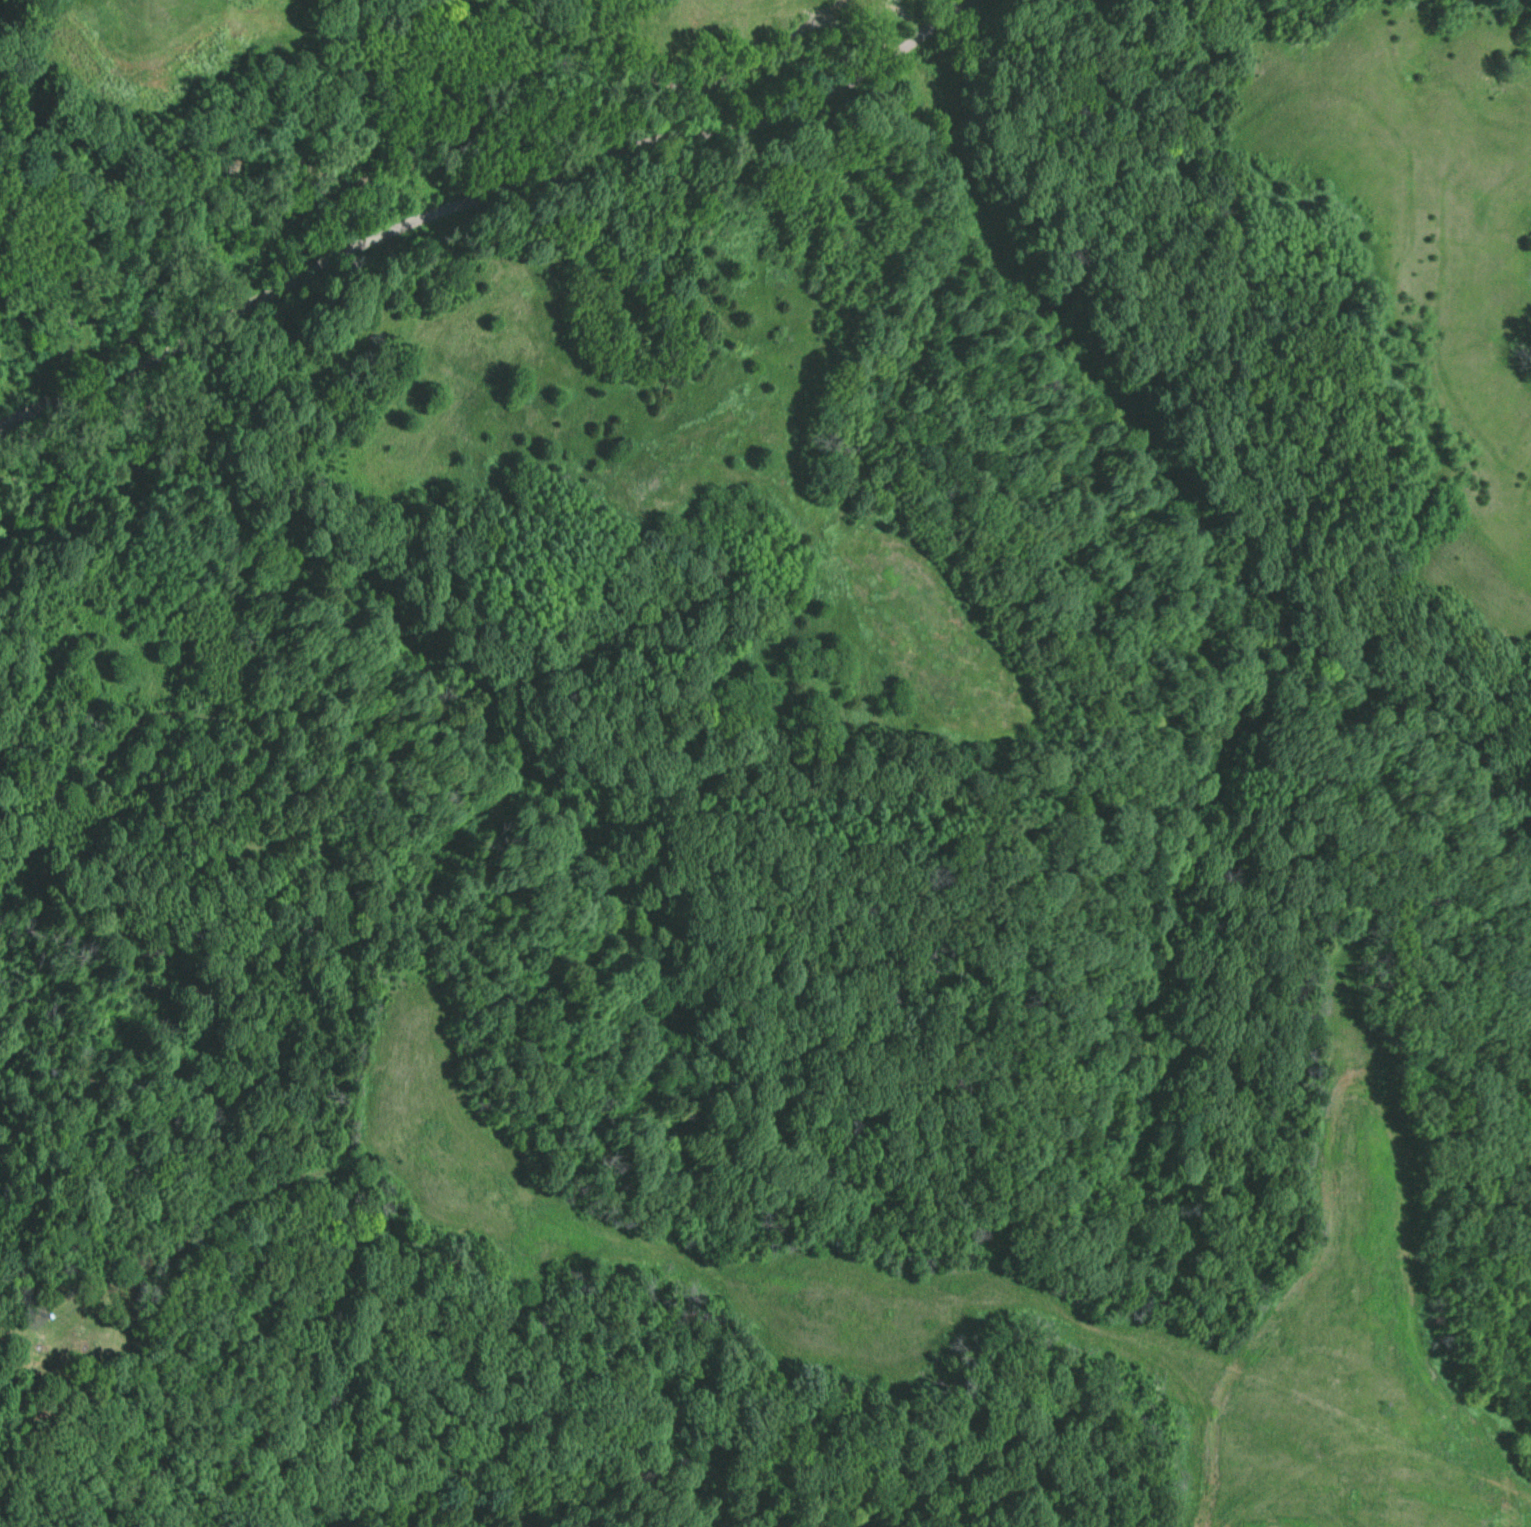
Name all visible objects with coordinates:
building: (950, 100)
road: (482, 196)
building: (21, 369)

